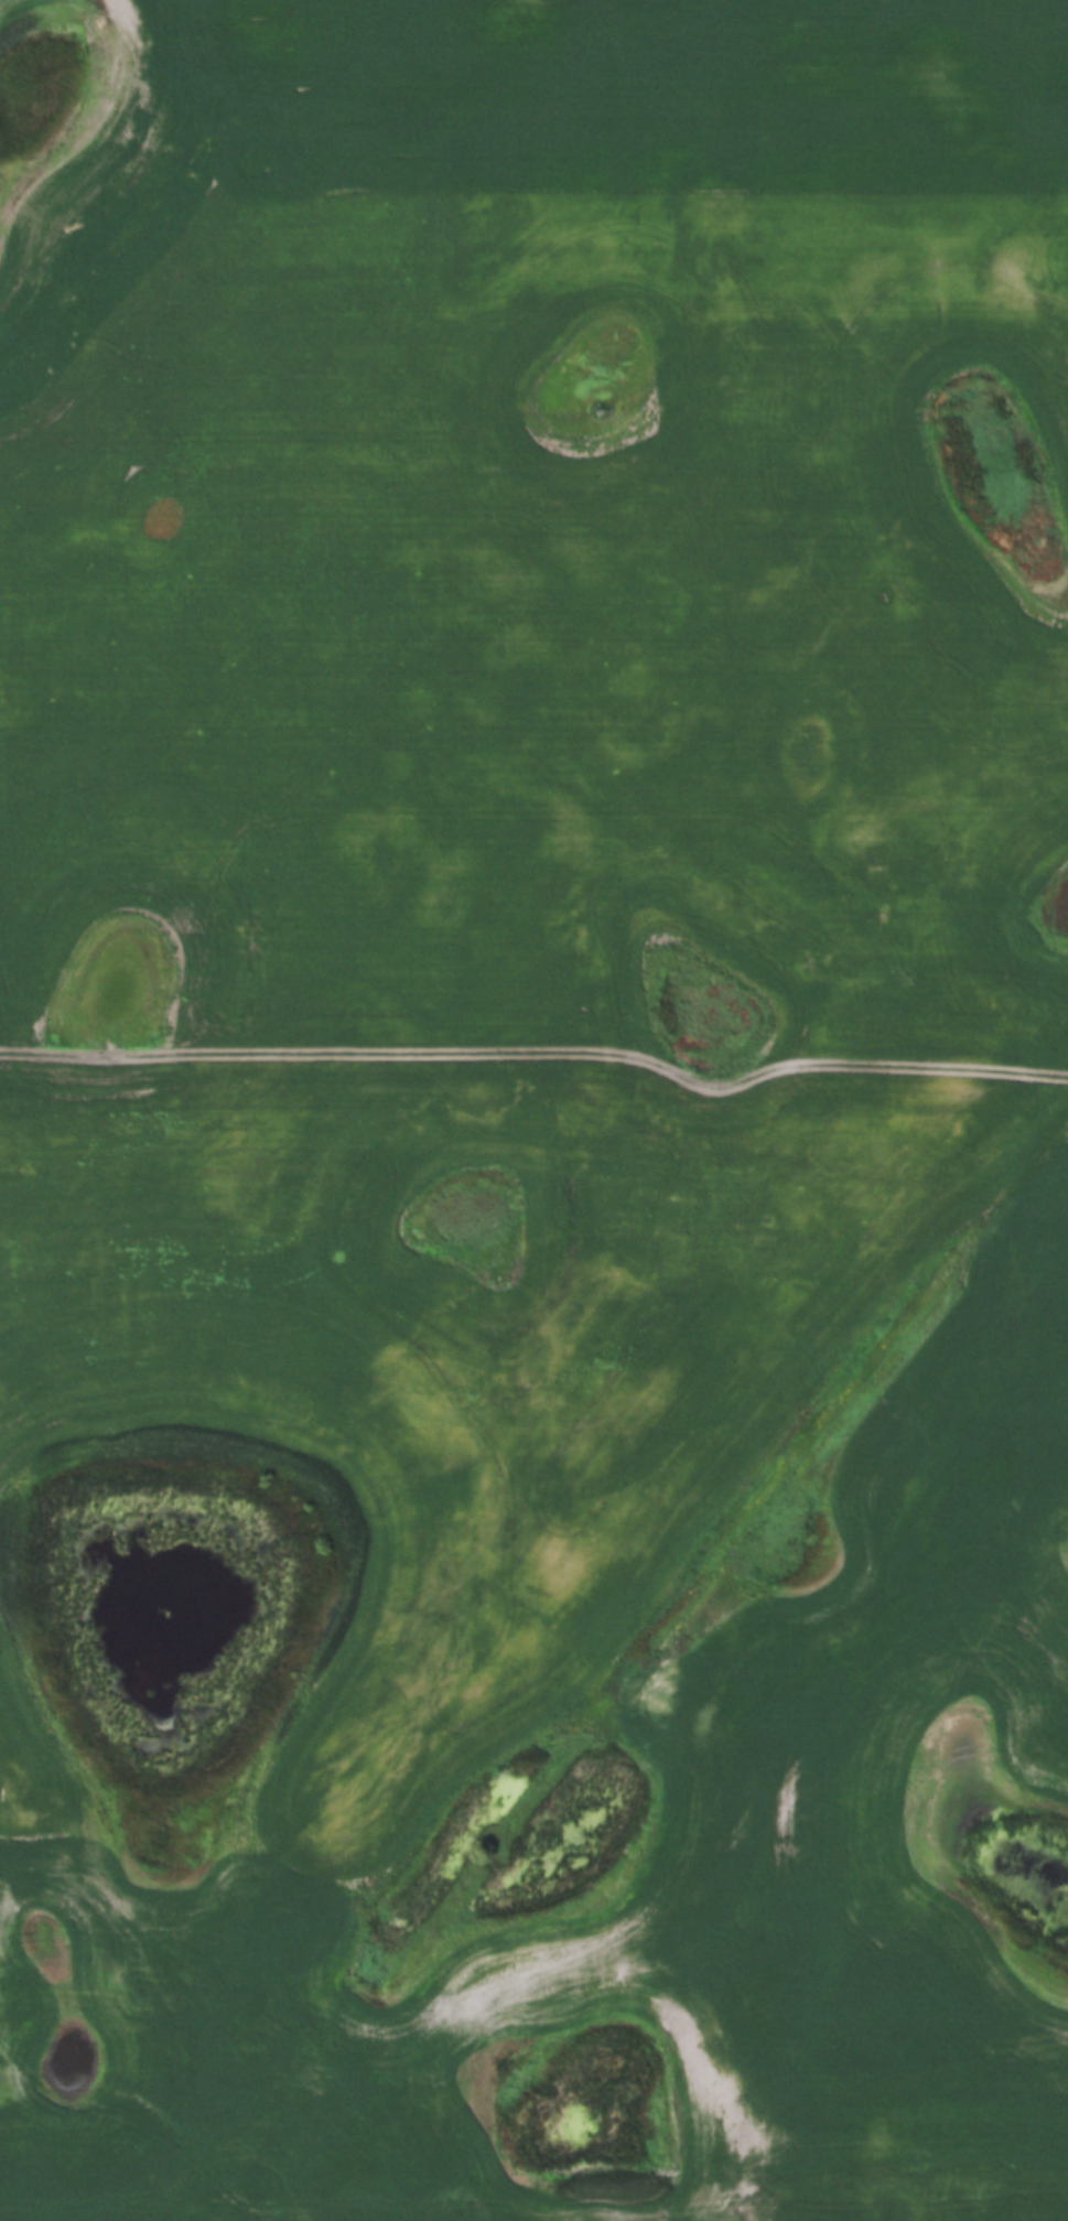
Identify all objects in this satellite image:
road: (713, 2203)
road: (94, 2210)

